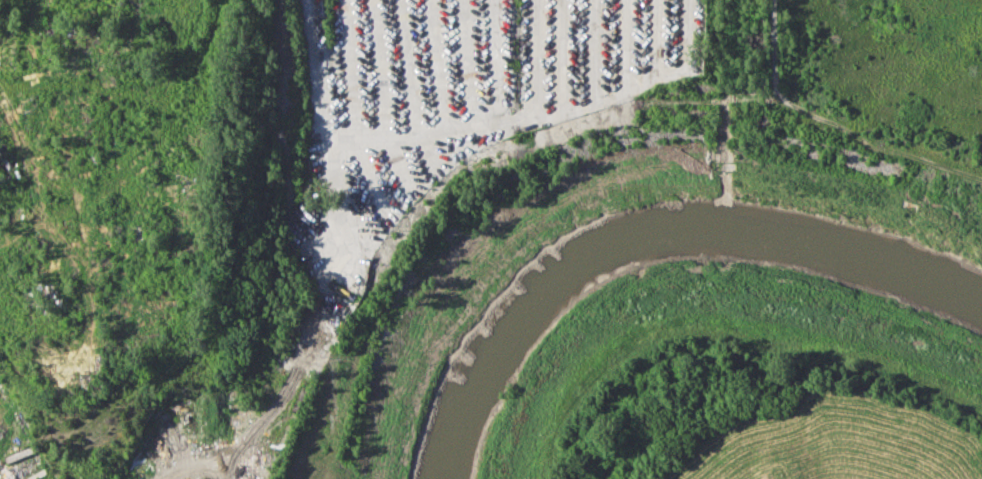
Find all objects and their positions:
river: (652, 230)
road: (198, 463)

